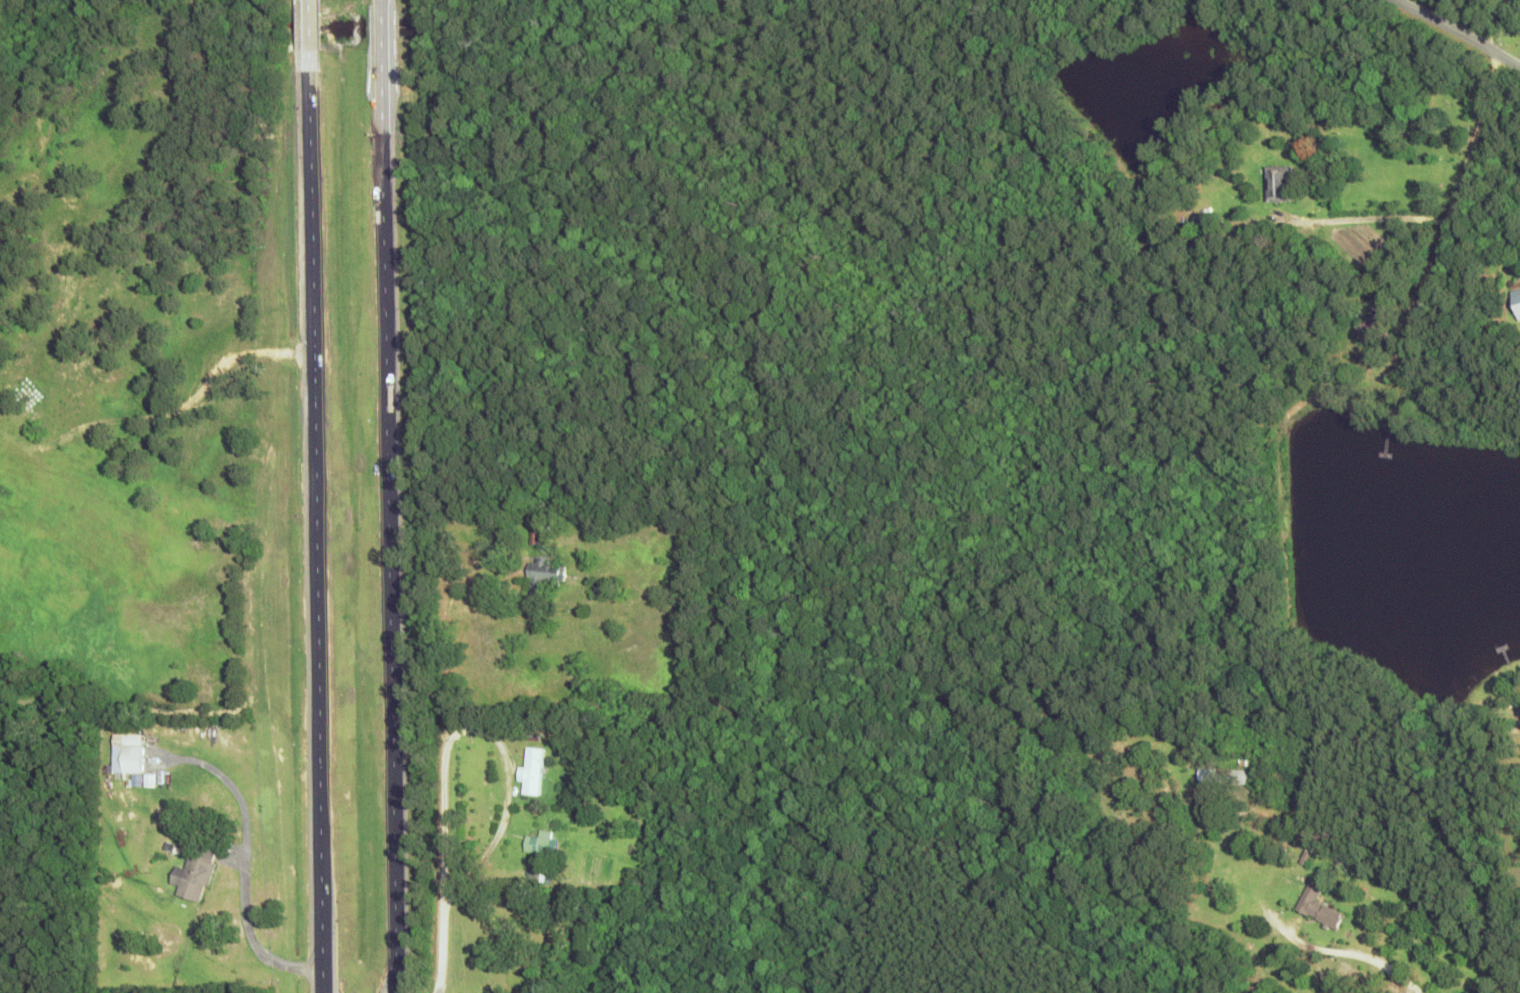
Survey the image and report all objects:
road: (1084, 2)
road: (1475, 28)
road: (1136, 29)
building: (1280, 183)
road: (1473, 184)
building: (1516, 300)
building: (1369, 321)
road: (313, 496)
road: (387, 496)
building: (544, 575)
building: (603, 590)
road: (947, 599)
building: (132, 754)
building: (532, 771)
building: (1207, 774)
building: (540, 843)
building: (194, 870)
building: (537, 876)
building: (1318, 906)

